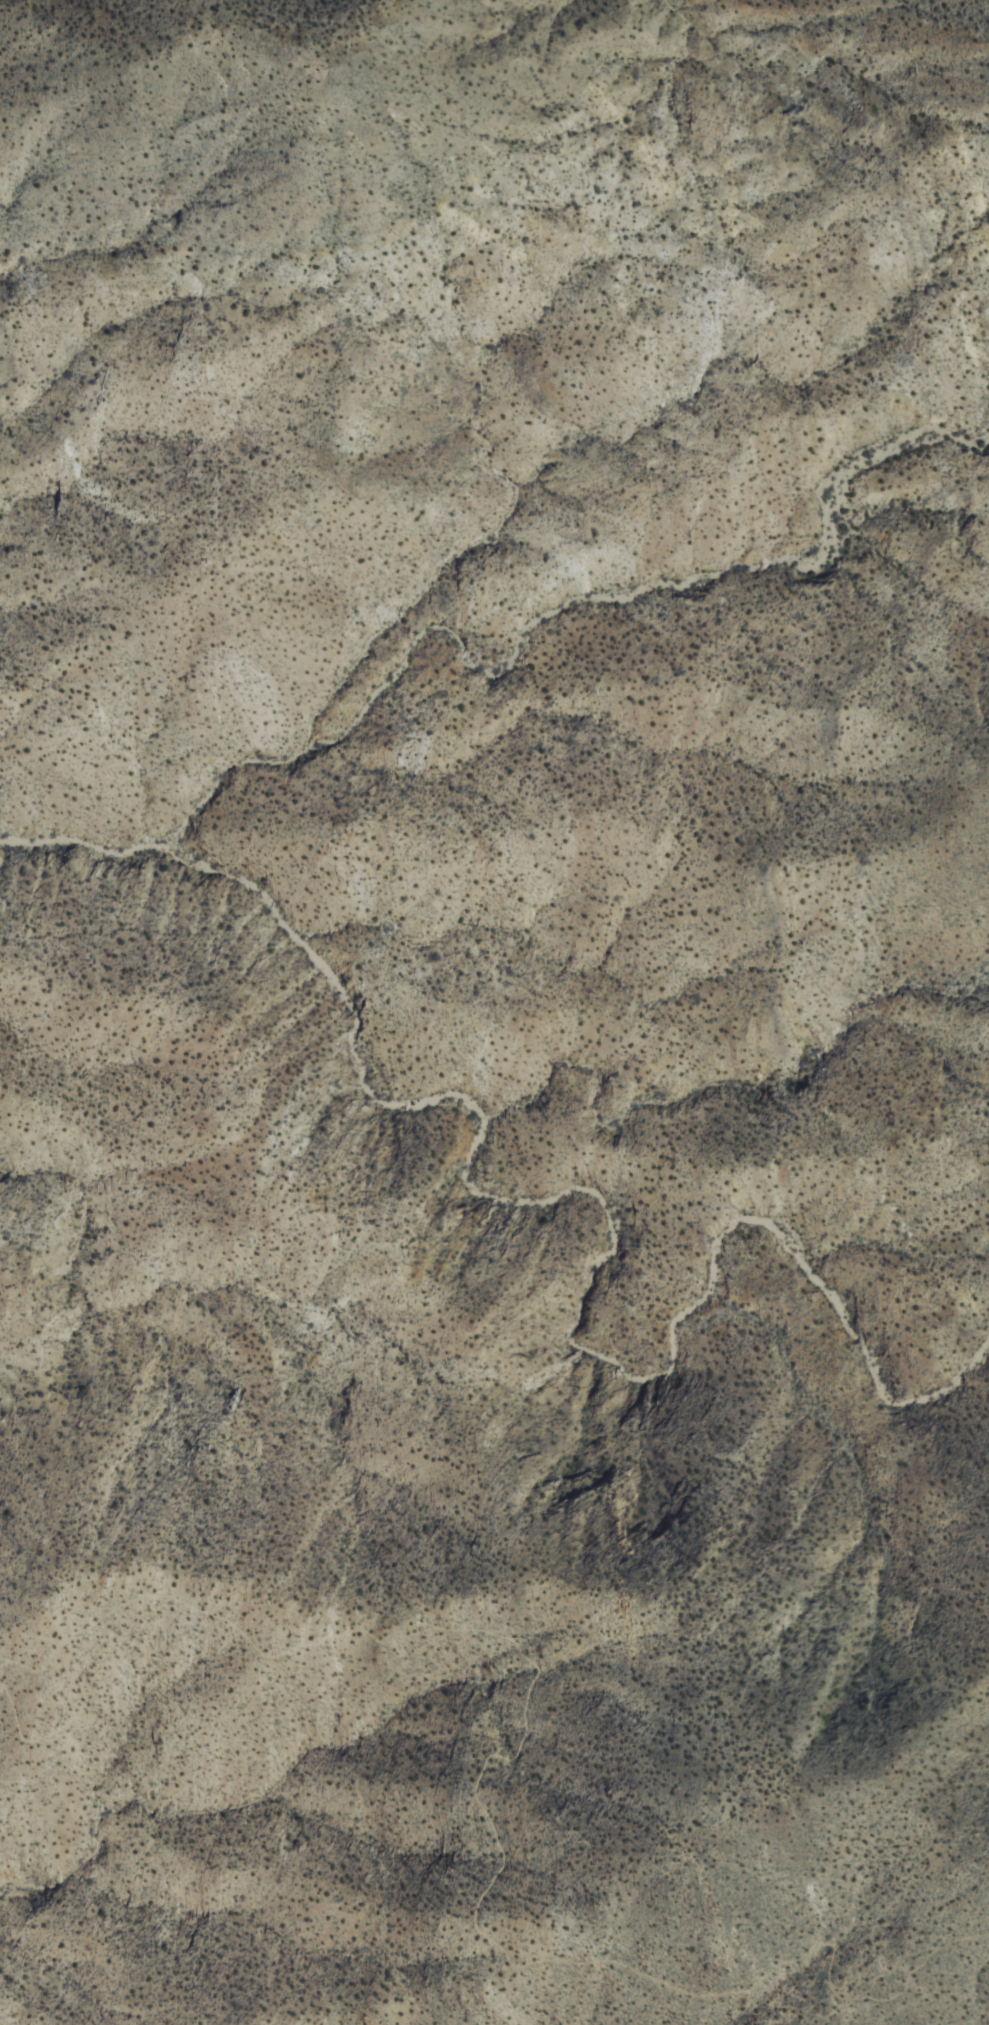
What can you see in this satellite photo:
road: (90, 1714)
road: (477, 1795)

